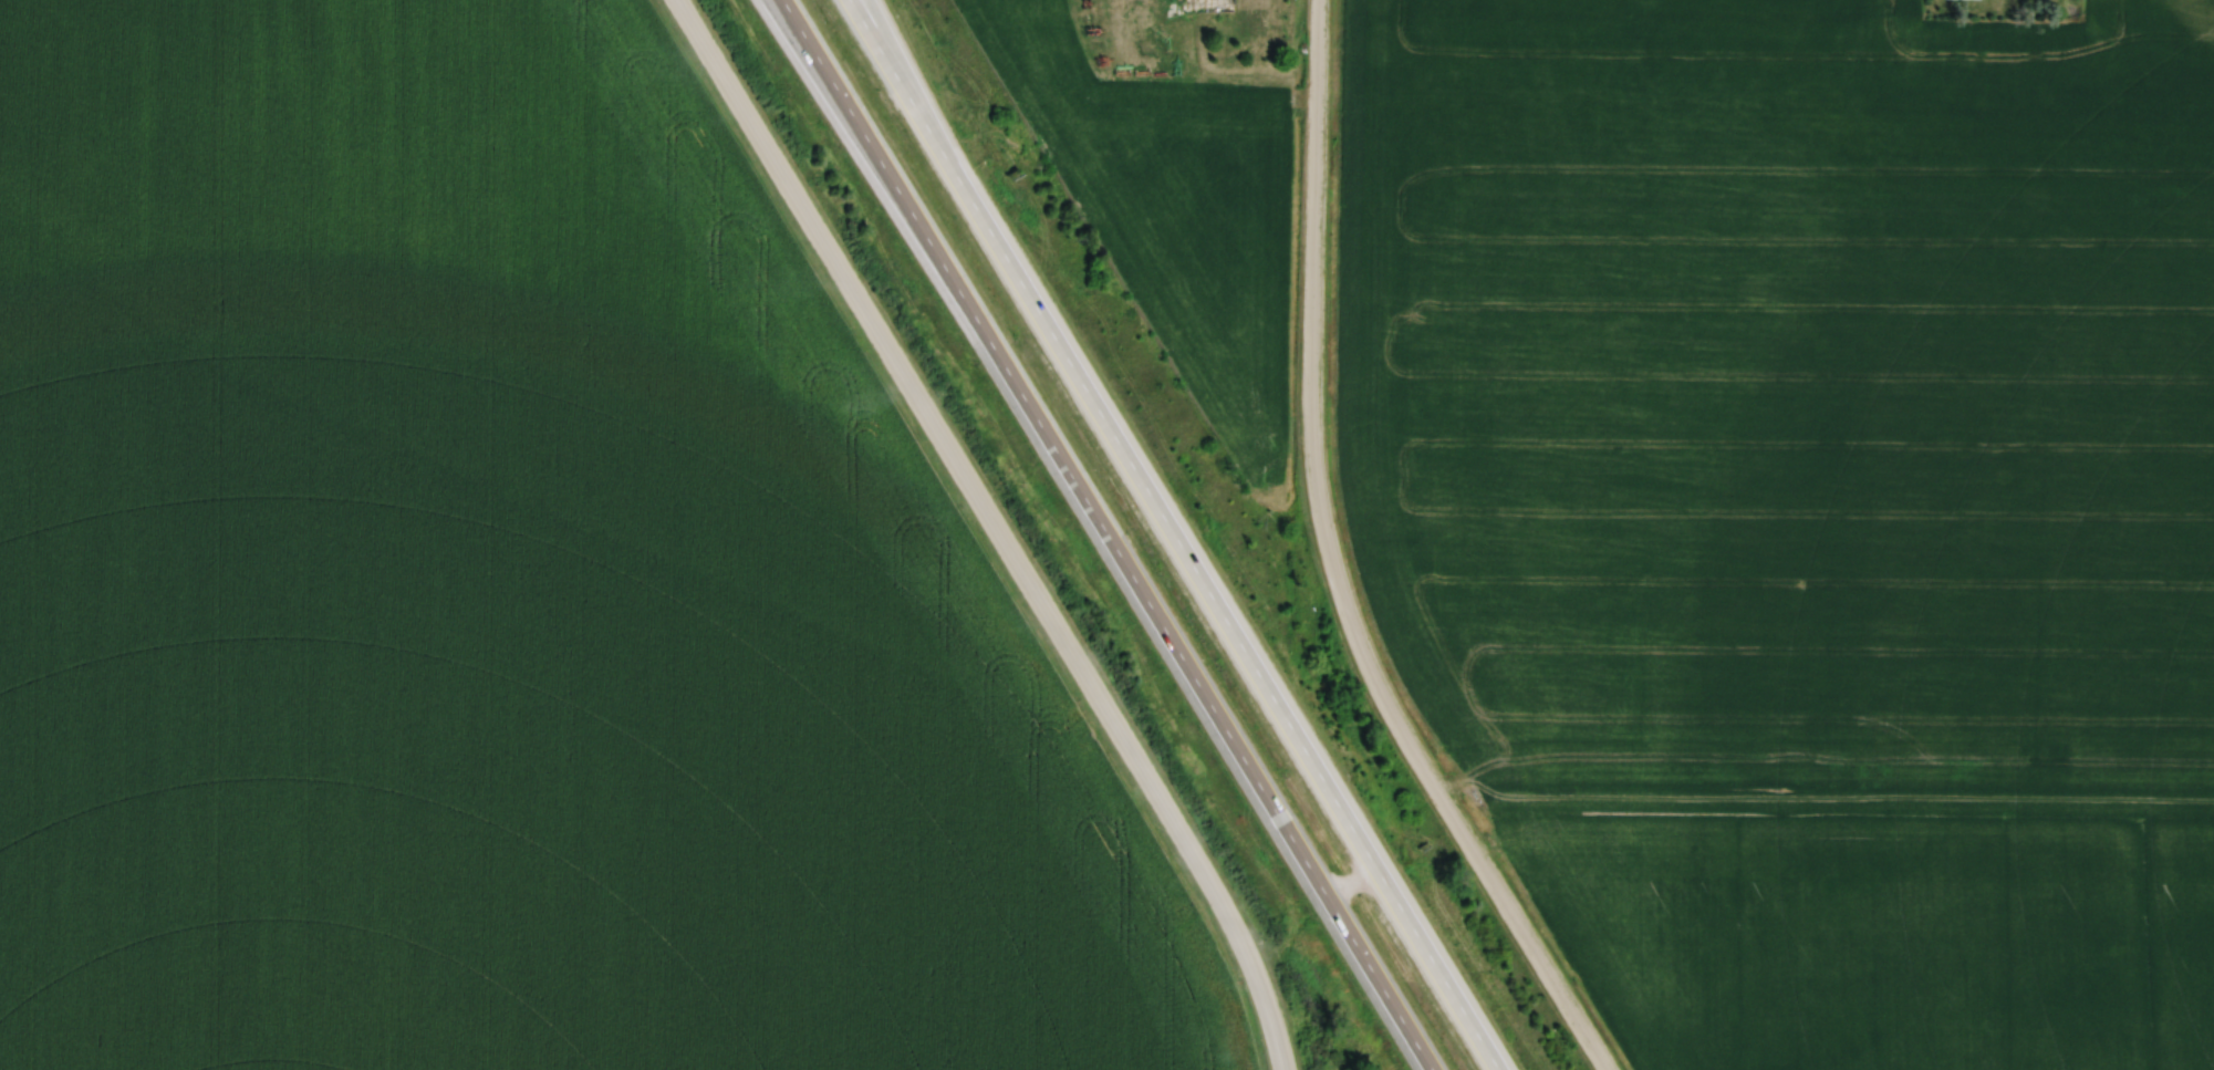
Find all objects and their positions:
road: (903, 81)
road: (1311, 440)
road: (997, 528)
road: (1099, 533)
road: (1171, 534)
road: (1539, 957)

